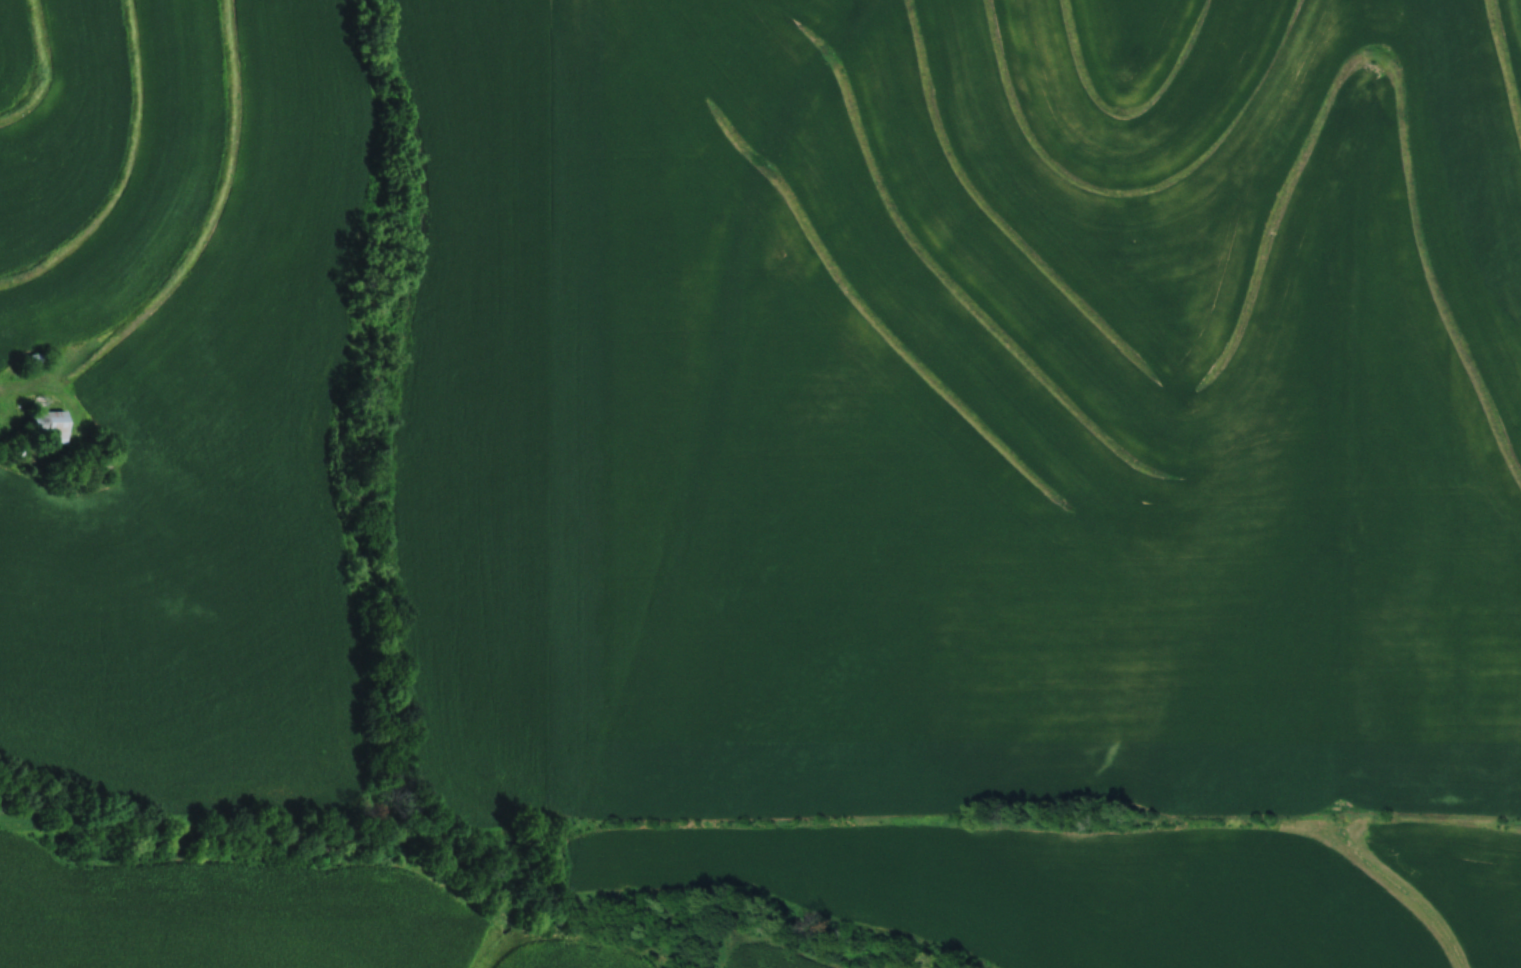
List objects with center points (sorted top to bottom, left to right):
building: (32, 359)
building: (45, 426)

